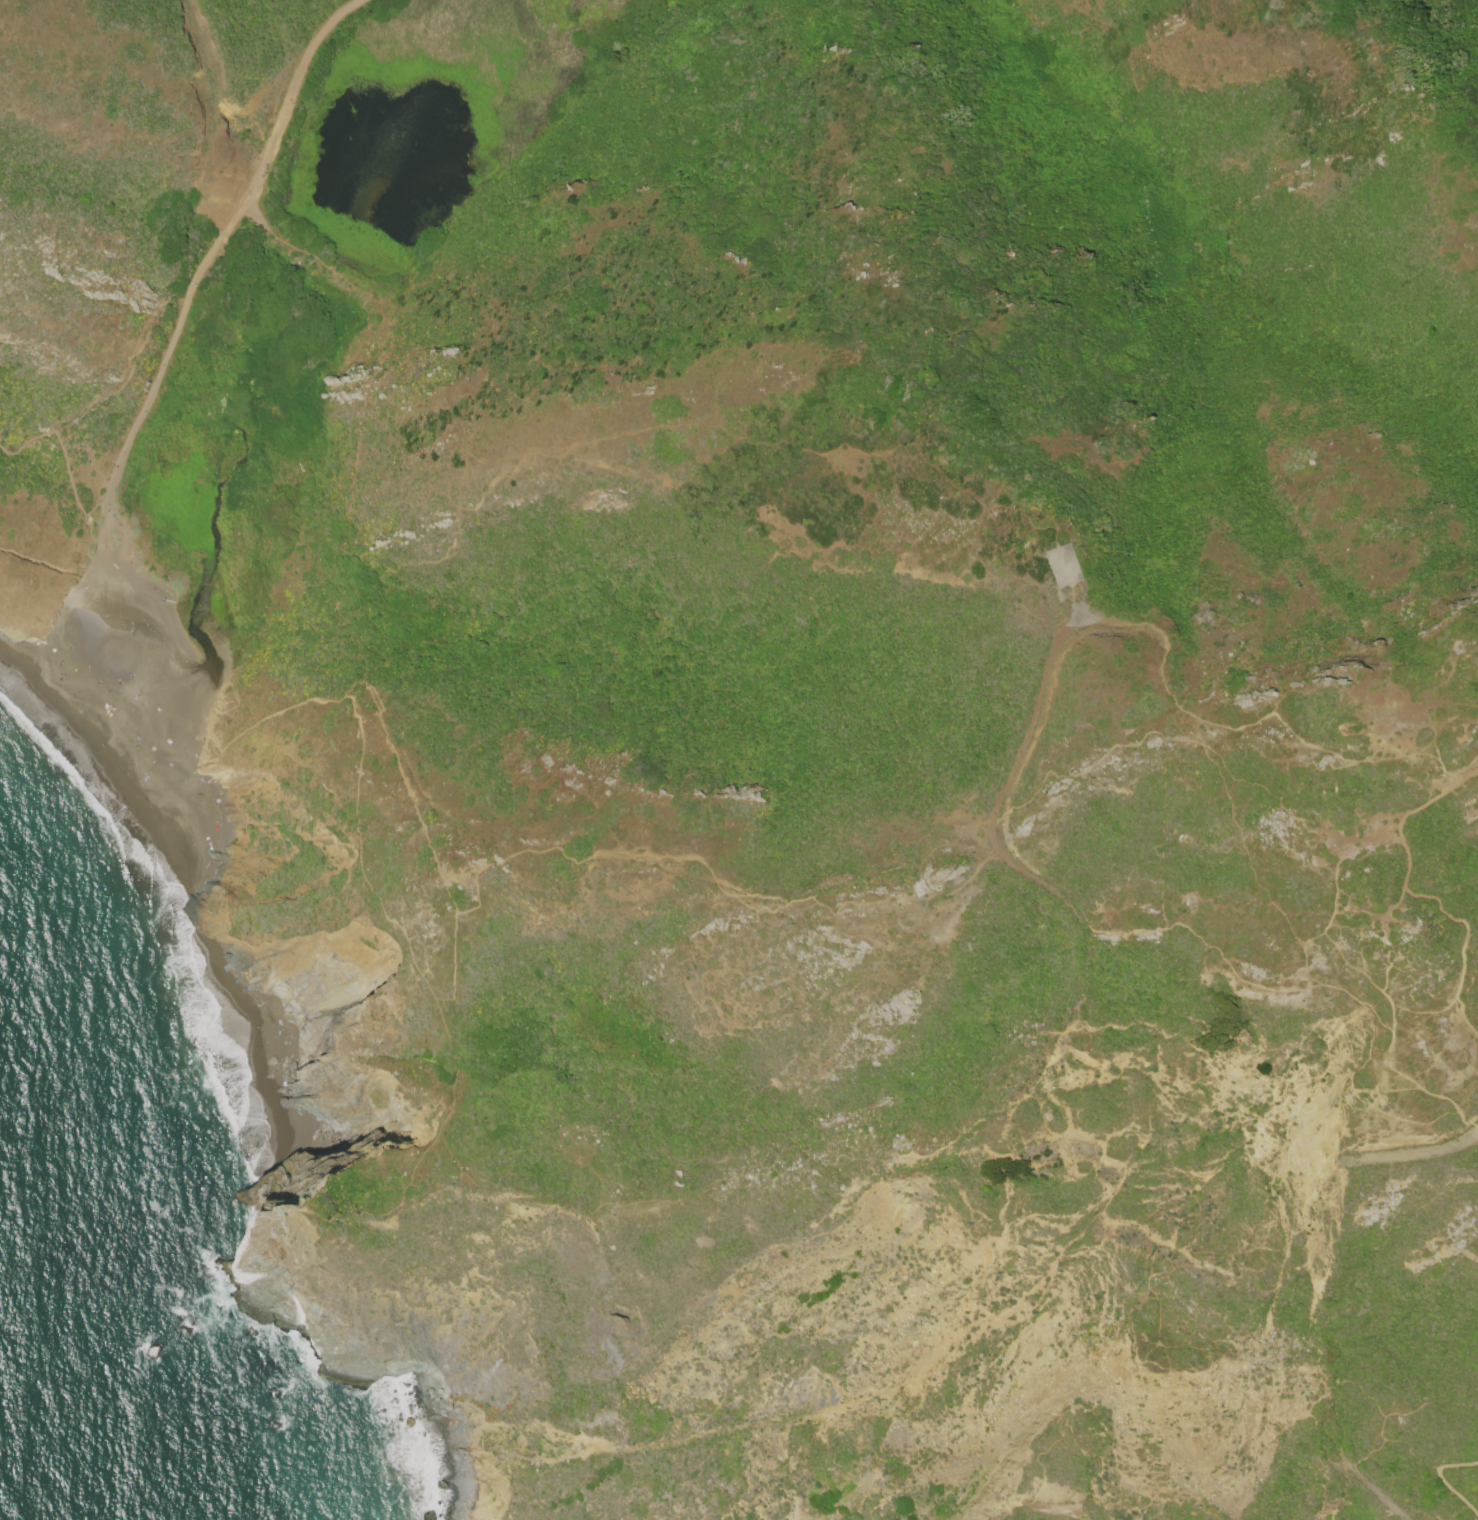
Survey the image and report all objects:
road: (283, 116)
dam: (323, 268)
road: (144, 404)
road: (30, 443)
road: (91, 510)
road: (1069, 625)
road: (1191, 715)
road: (701, 856)
road: (1408, 896)
road: (454, 938)
road: (434, 993)
road: (1472, 1140)
road: (1472, 1143)
road: (1405, 1160)
road: (1441, 1479)
road: (1363, 1485)

